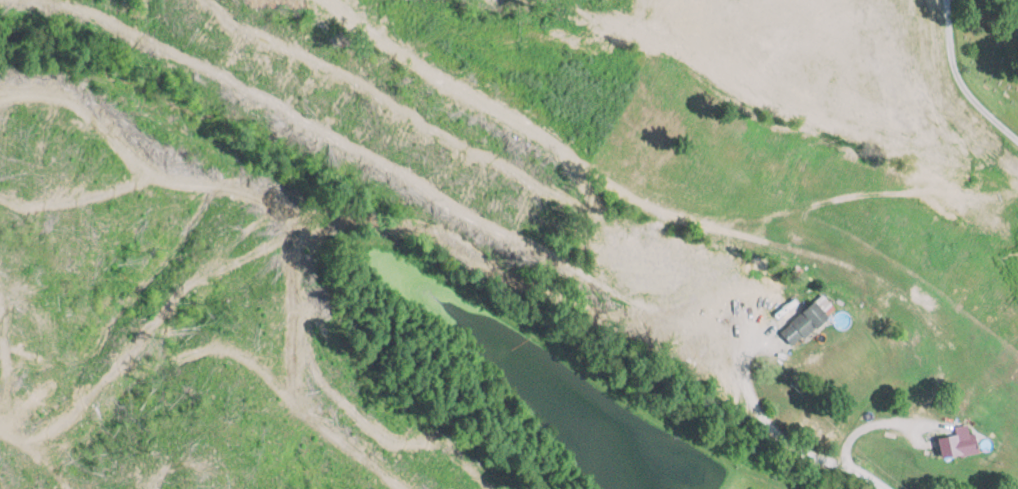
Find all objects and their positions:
road: (959, 81)
building: (801, 322)
building: (955, 444)
road: (860, 475)

